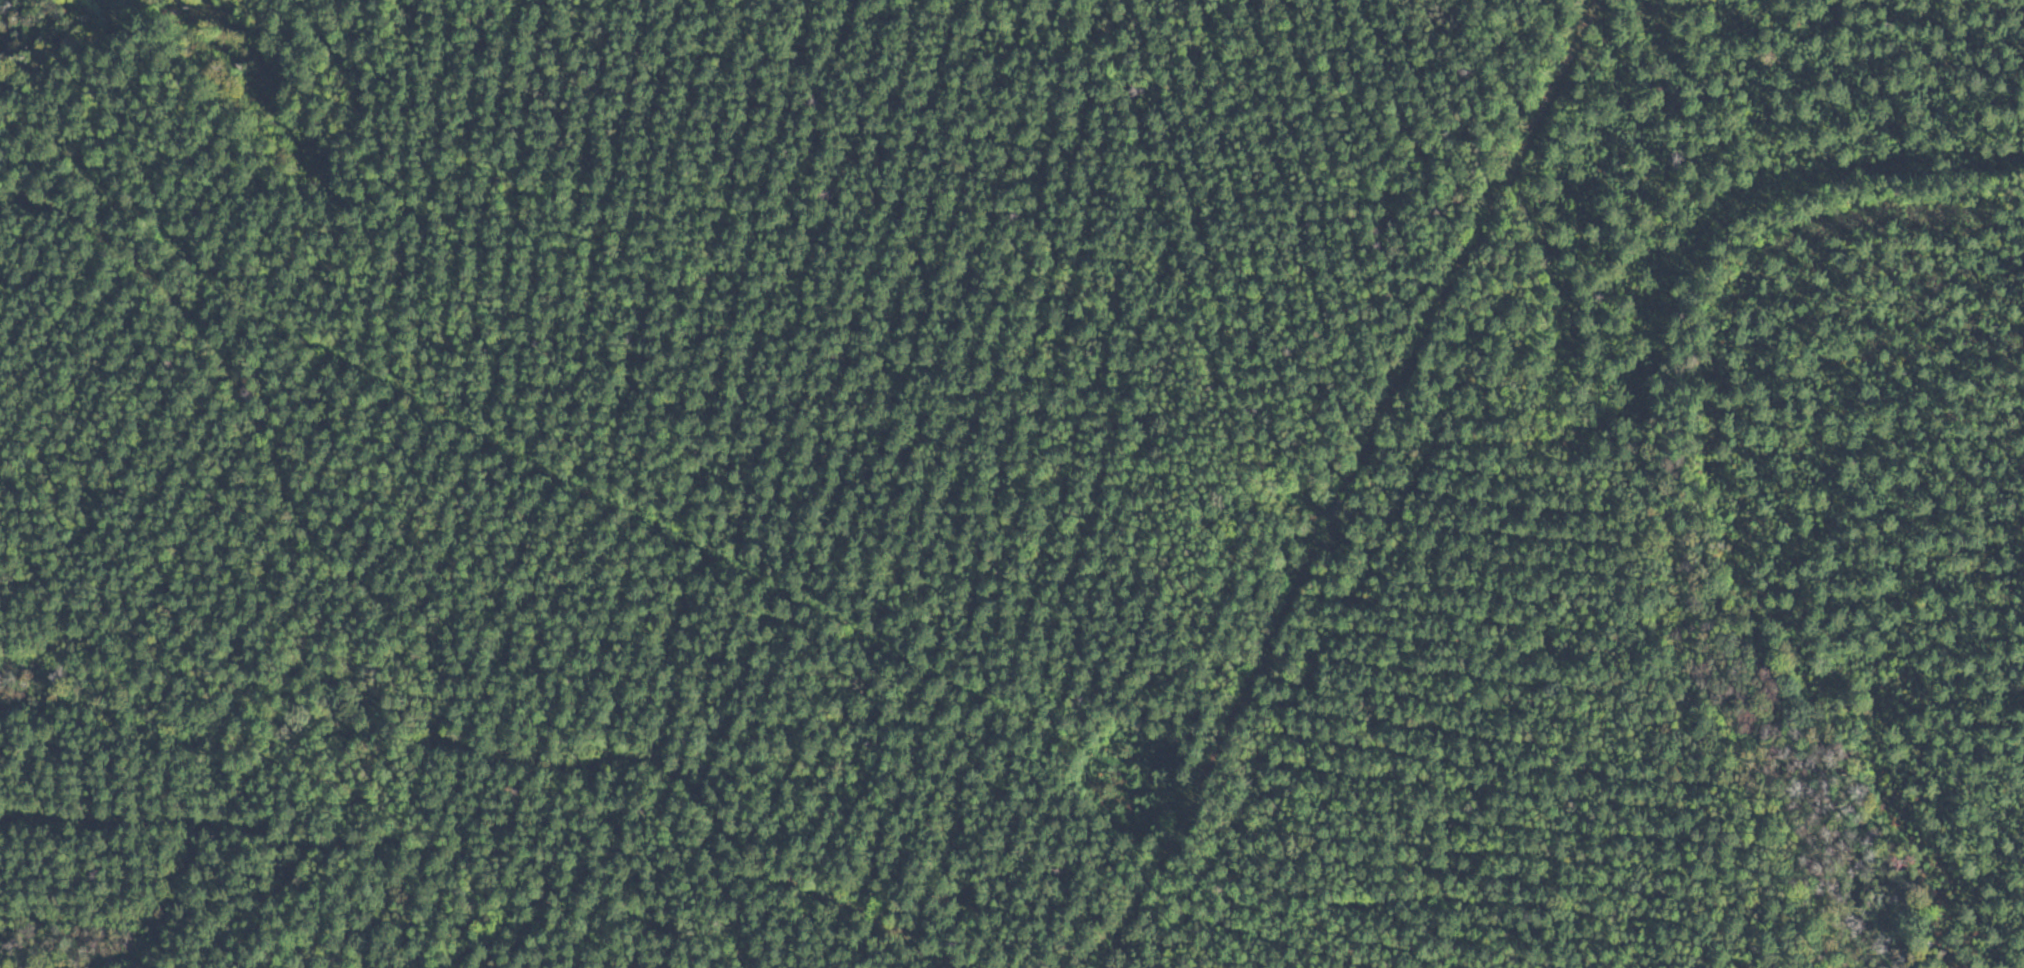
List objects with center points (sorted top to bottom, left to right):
park: (1012, 484)
road: (1381, 486)

